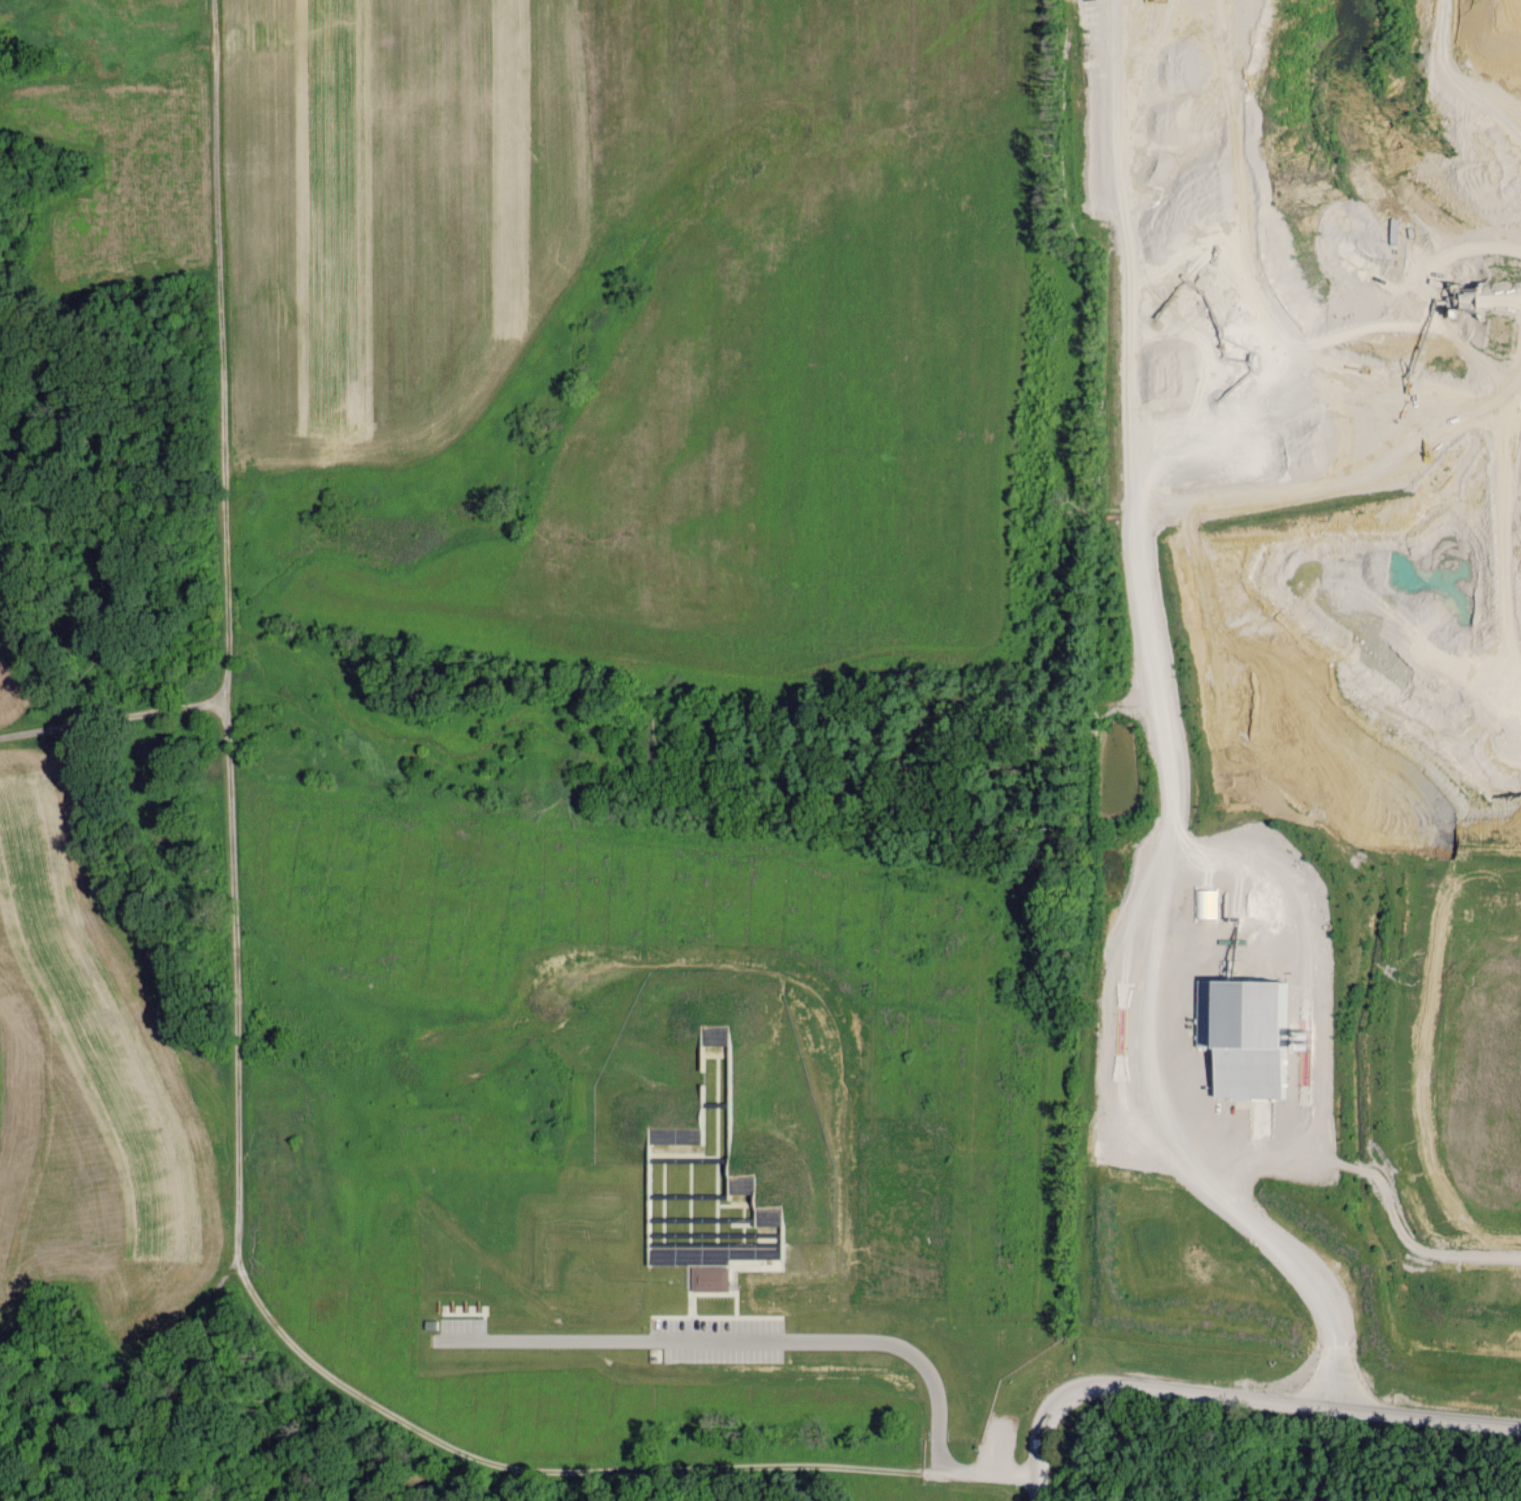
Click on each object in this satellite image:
road: (111, 720)
building: (1207, 903)
road: (232, 1023)
building: (1256, 1034)
road: (1282, 1249)
building: (747, 1264)
building: (713, 1278)
road: (787, 1338)
parking lot: (718, 1343)
road: (1236, 1398)
parking lot: (997, 1453)

